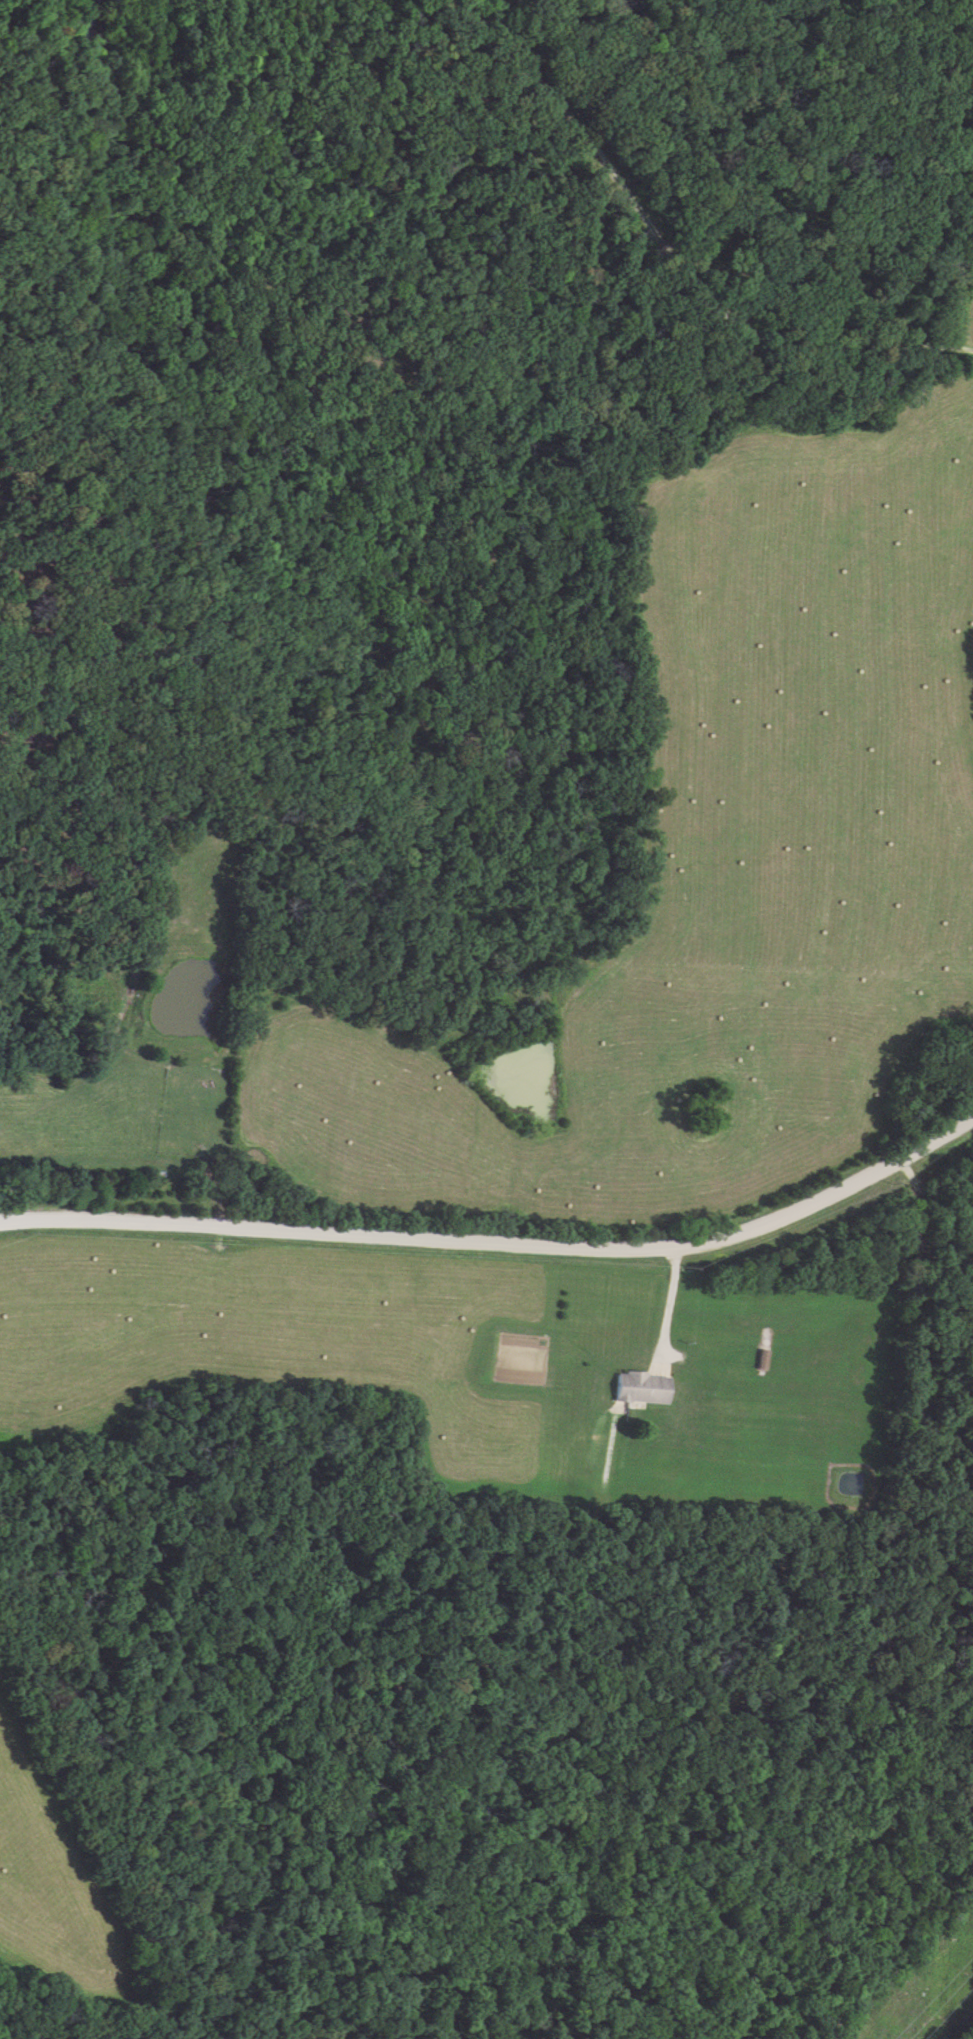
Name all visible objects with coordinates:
road: (685, 271)
road: (497, 1247)
road: (667, 1302)
road: (918, 1345)
building: (639, 1389)

